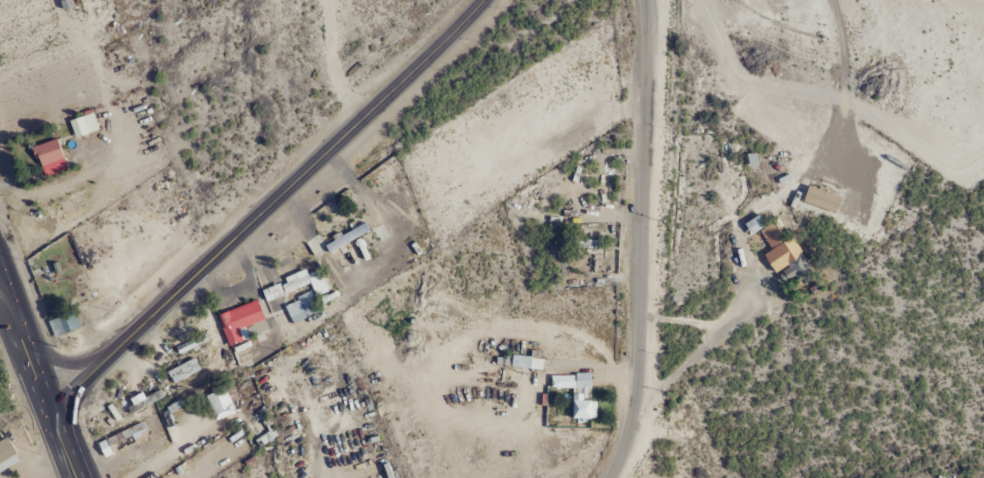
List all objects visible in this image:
road: (969, 4)
road: (331, 62)
building: (82, 125)
building: (49, 158)
building: (820, 200)
road: (267, 204)
road: (637, 241)
building: (787, 262)
building: (272, 293)
building: (304, 295)
building: (238, 322)
road: (878, 354)
building: (522, 362)
building: (182, 371)
road: (38, 382)
building: (232, 394)
building: (576, 396)
building: (219, 405)
building: (121, 440)
building: (6, 455)
road: (30, 460)

